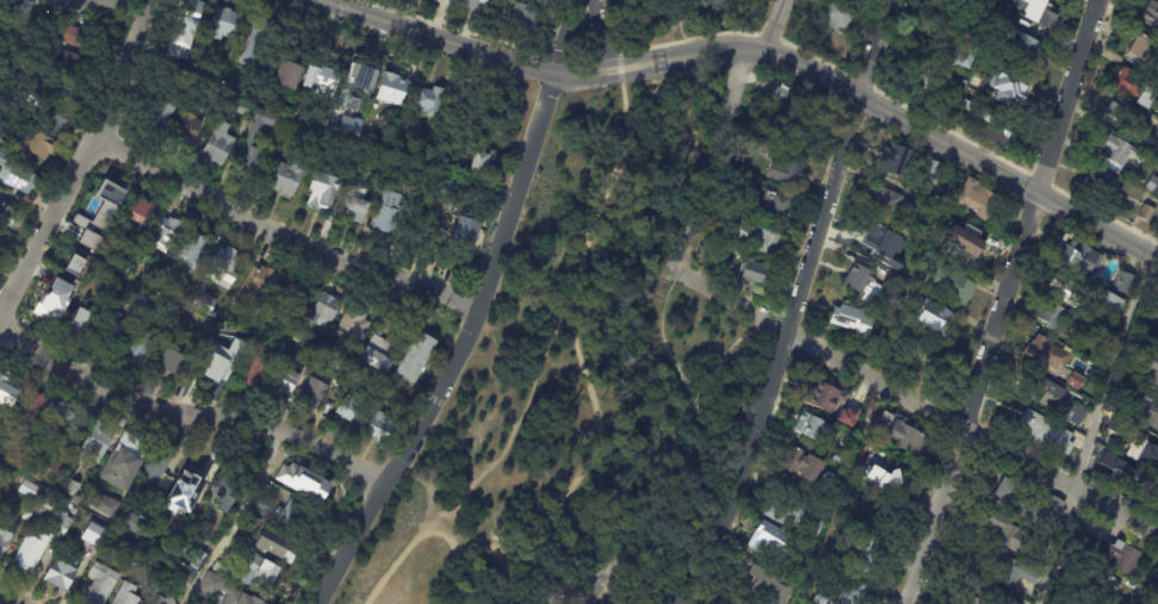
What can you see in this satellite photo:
building: (444, 0)
building: (450, 0)
building: (454, 0)
building: (510, 0)
building: (478, 6)
building: (103, 7)
building: (942, 10)
building: (25, 12)
building: (1034, 12)
building: (832, 13)
building: (859, 14)
building: (192, 15)
road: (615, 15)
building: (1150, 15)
road: (642, 18)
building: (526, 20)
building: (227, 25)
road: (596, 33)
building: (78, 37)
road: (440, 37)
road: (570, 37)
building: (262, 44)
building: (937, 46)
building: (1139, 48)
building: (0, 49)
building: (1023, 49)
road: (718, 50)
building: (961, 54)
building: (185, 56)
building: (73, 64)
road: (626, 64)
building: (359, 76)
building: (293, 77)
building: (925, 79)
building: (327, 80)
building: (976, 83)
building: (1010, 83)
building: (1128, 83)
building: (397, 91)
building: (69, 94)
building: (785, 95)
building: (806, 96)
building: (10, 101)
building: (347, 101)
building: (432, 101)
building: (947, 107)
building: (248, 110)
building: (466, 110)
building: (775, 116)
building: (1127, 116)
building: (60, 117)
building: (162, 118)
building: (349, 124)
building: (993, 126)
building: (188, 130)
building: (364, 131)
road: (727, 131)
building: (792, 136)
building: (261, 141)
building: (39, 144)
building: (222, 144)
road: (954, 144)
building: (769, 145)
building: (1156, 149)
building: (1117, 151)
road: (86, 157)
building: (890, 158)
building: (485, 166)
building: (787, 169)
building: (930, 172)
building: (17, 175)
building: (289, 181)
building: (1101, 182)
building: (1152, 185)
building: (930, 191)
building: (326, 193)
building: (1144, 195)
building: (103, 197)
building: (971, 197)
building: (885, 199)
building: (1153, 200)
building: (395, 201)
building: (784, 207)
building: (1146, 213)
building: (6, 214)
building: (143, 217)
road: (285, 231)
building: (428, 233)
building: (168, 235)
building: (877, 235)
building: (466, 236)
building: (766, 238)
building: (88, 239)
building: (955, 241)
building: (92, 247)
building: (742, 250)
building: (196, 251)
building: (109, 256)
building: (1073, 256)
building: (163, 266)
building: (80, 268)
building: (126, 272)
building: (758, 272)
building: (142, 278)
building: (219, 281)
building: (863, 282)
building: (1122, 282)
building: (950, 284)
building: (69, 285)
building: (259, 286)
building: (1061, 288)
building: (1151, 288)
building: (291, 297)
building: (187, 303)
road: (1004, 303)
road: (803, 307)
building: (1103, 307)
building: (54, 310)
building: (329, 310)
road: (569, 310)
building: (846, 316)
building: (931, 316)
building: (1052, 316)
building: (1157, 317)
building: (85, 325)
building: (357, 326)
building: (289, 328)
building: (303, 335)
building: (110, 336)
building: (143, 345)
building: (218, 347)
road: (459, 349)
building: (358, 351)
building: (416, 354)
building: (1047, 354)
building: (316, 355)
building: (379, 355)
building: (1102, 356)
park: (586, 357)
building: (338, 363)
building: (179, 367)
building: (221, 369)
building: (256, 369)
building: (1152, 374)
building: (1076, 381)
building: (287, 384)
building: (1126, 387)
building: (7, 390)
building: (317, 393)
building: (824, 397)
road: (917, 398)
building: (1055, 400)
road: (1097, 407)
building: (36, 410)
building: (347, 410)
road: (193, 412)
building: (1148, 412)
building: (847, 417)
building: (67, 422)
building: (1117, 424)
road: (701, 425)
building: (811, 426)
building: (382, 428)
building: (894, 431)
building: (0, 432)
building: (1047, 435)
building: (1077, 437)
building: (99, 443)
building: (1142, 453)
building: (130, 456)
building: (840, 460)
building: (800, 462)
building: (58, 466)
building: (160, 467)
building: (884, 474)
building: (1090, 474)
building: (1126, 474)
building: (236, 480)
building: (829, 480)
building: (308, 486)
building: (76, 492)
building: (188, 492)
building: (33, 493)
building: (110, 505)
building: (1029, 505)
building: (0, 509)
building: (265, 511)
building: (293, 512)
building: (799, 516)
building: (29, 517)
building: (256, 525)
building: (137, 527)
building: (92, 533)
road: (441, 533)
building: (120, 535)
building: (762, 536)
building: (1010, 536)
building: (5, 542)
building: (274, 544)
building: (42, 546)
building: (192, 554)
building: (865, 555)
building: (1121, 559)
building: (225, 569)
building: (1016, 572)
building: (266, 575)
building: (63, 577)
building: (190, 578)
road: (439, 579)
building: (769, 584)
building: (153, 585)
building: (1100, 585)
building: (100, 586)
road: (626, 586)
road: (519, 587)
parking lot: (592, 587)
building: (223, 591)
building: (850, 594)
building: (129, 596)
building: (987, 596)
road: (10, 598)
road: (527, 599)
building: (159, 600)
building: (819, 600)
building: (260, 603)
building: (763, 603)

